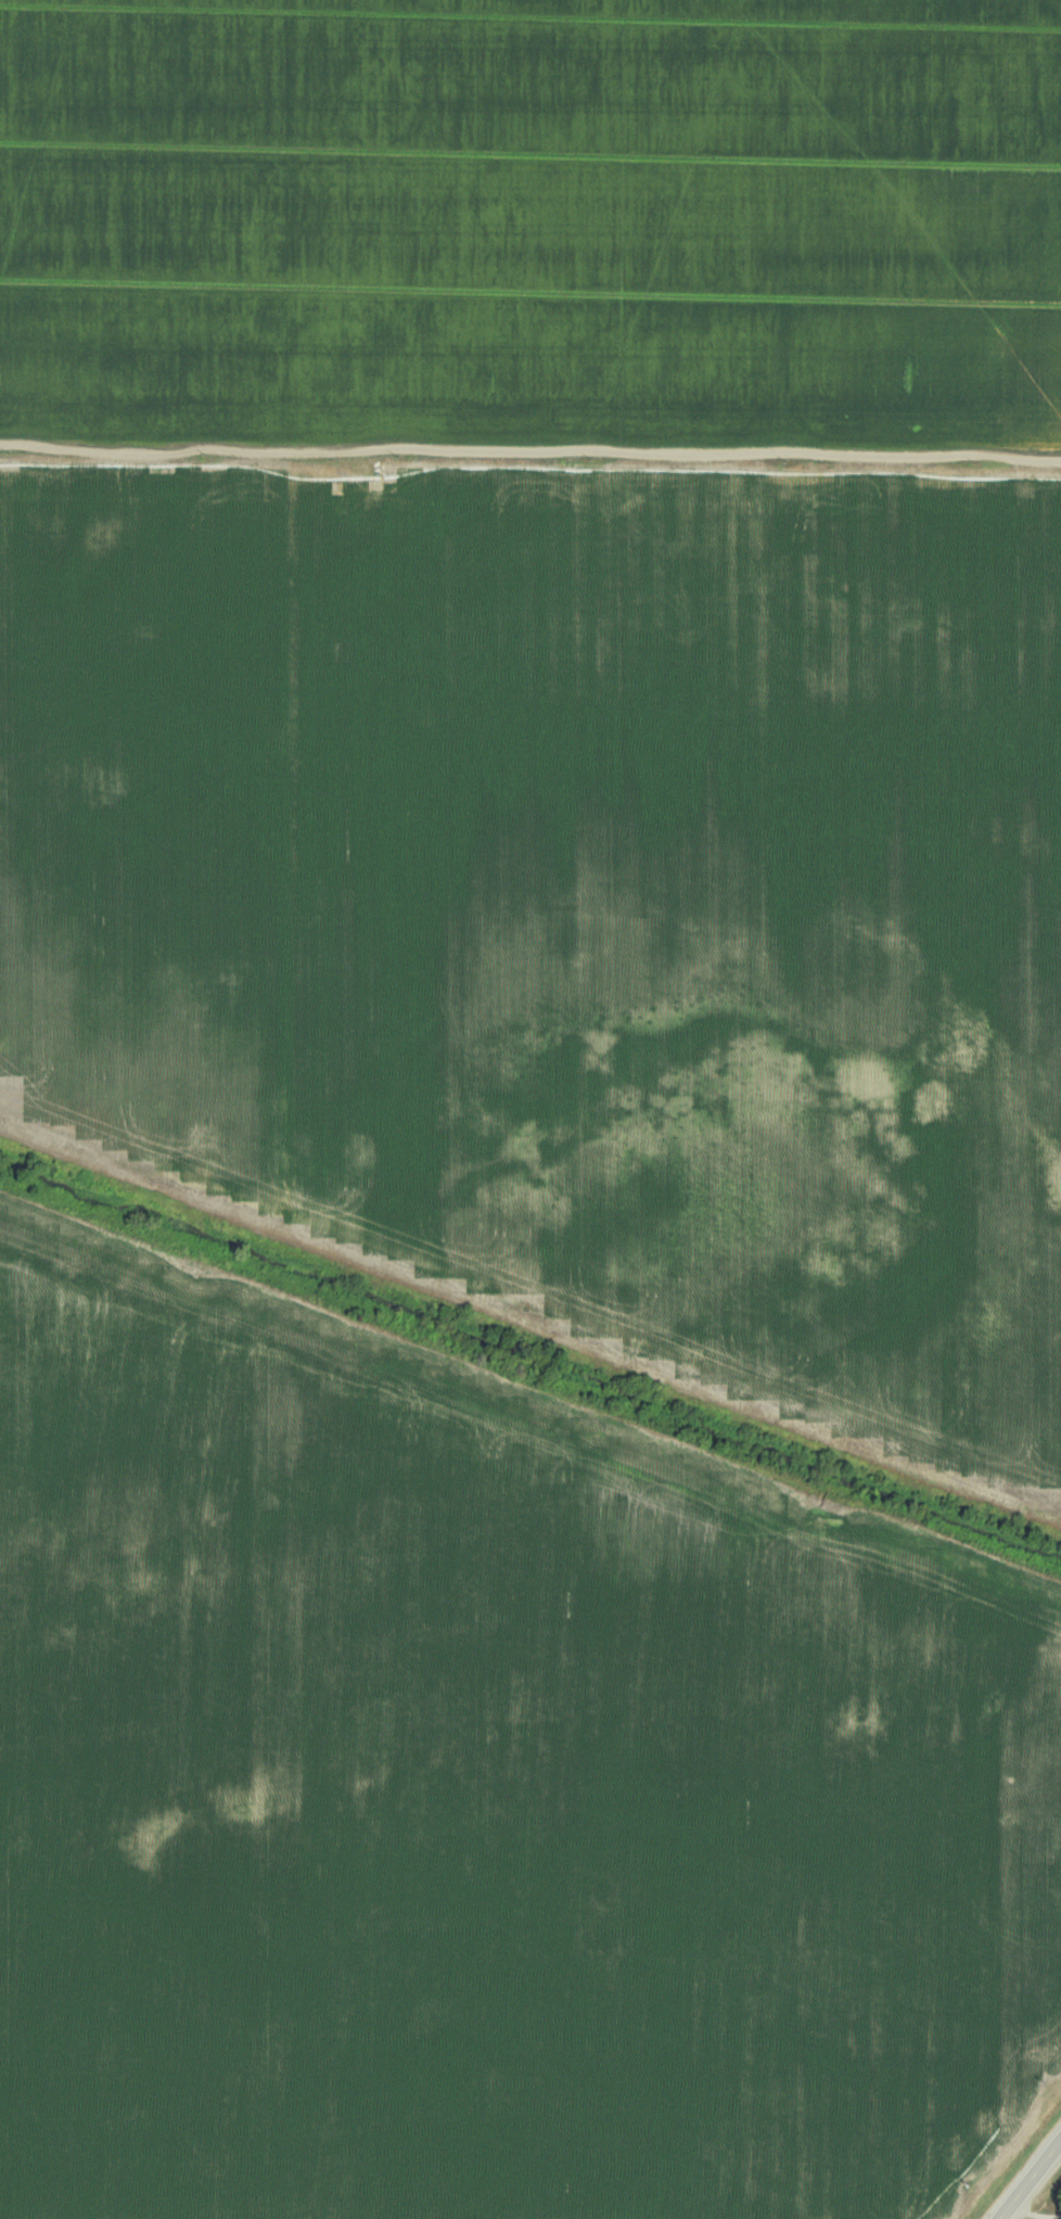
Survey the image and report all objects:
road: (1030, 2179)

